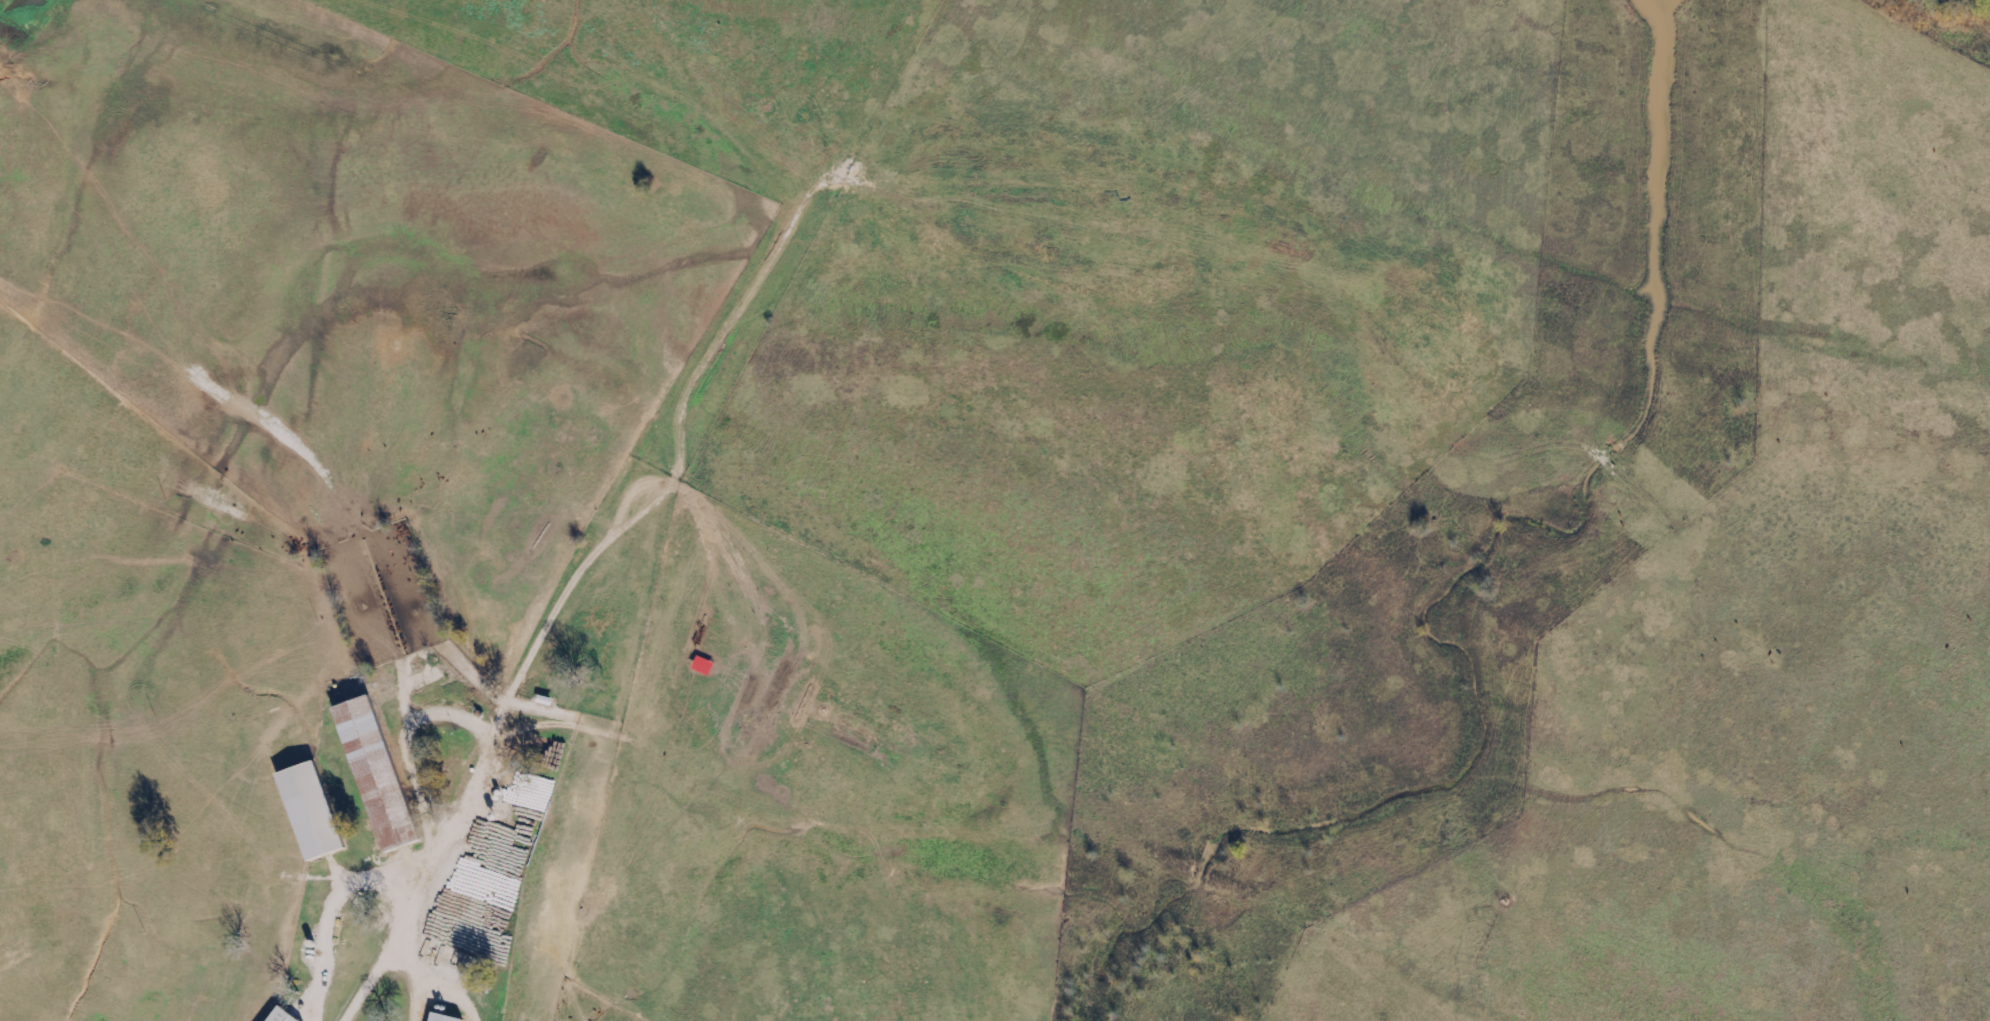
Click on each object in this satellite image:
road: (604, 507)
building: (380, 773)
building: (315, 810)
building: (286, 1015)
building: (446, 1016)

